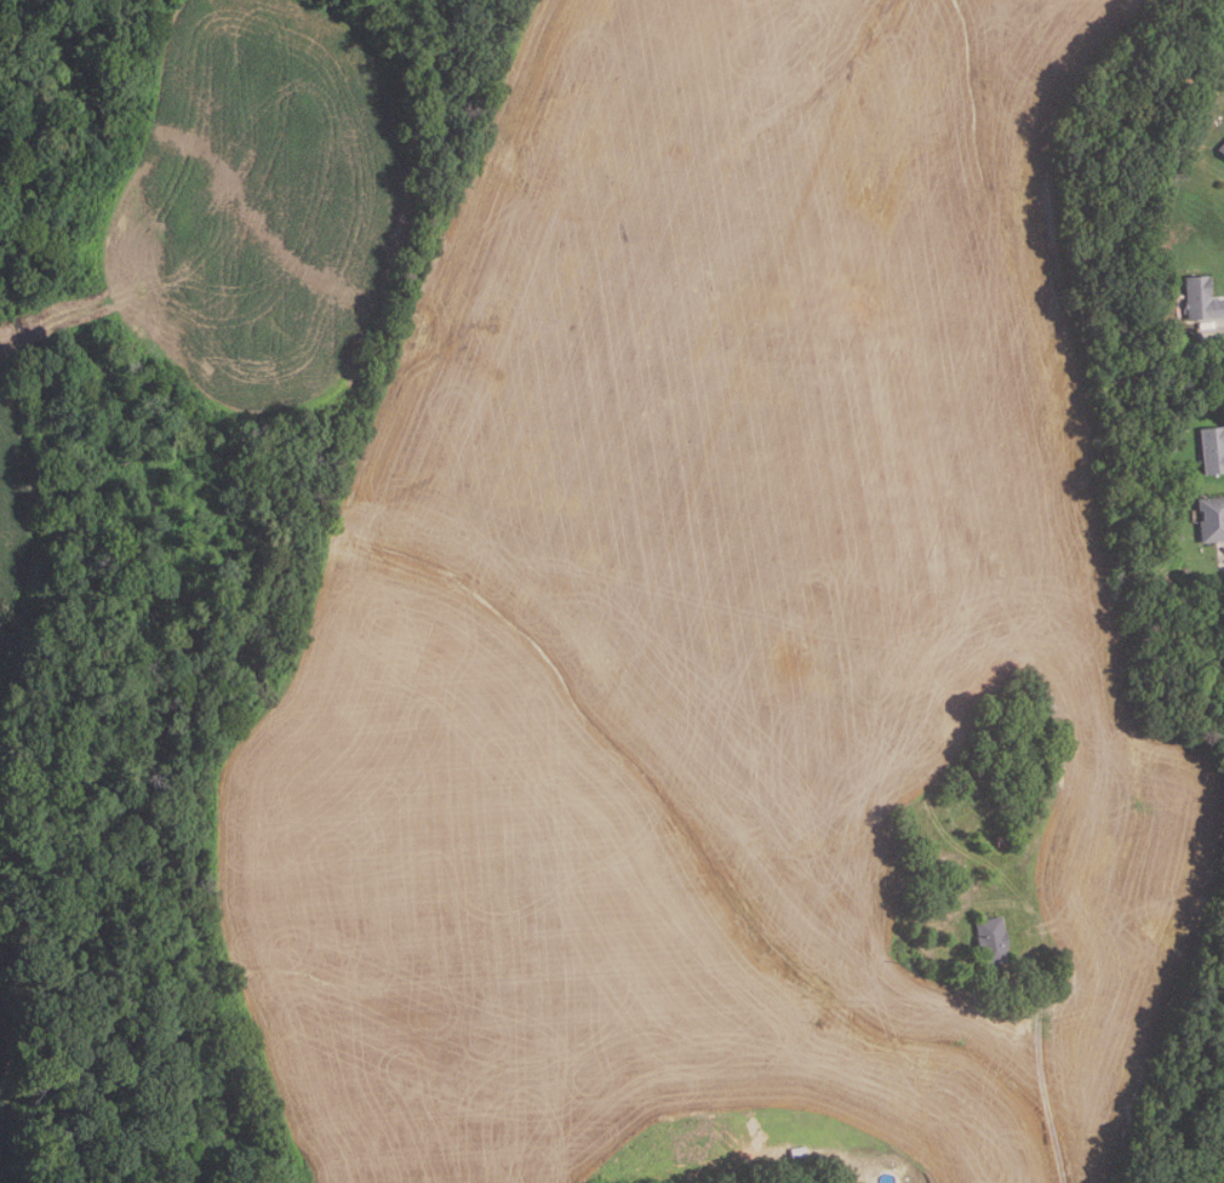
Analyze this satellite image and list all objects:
building: (1179, 143)
building: (1220, 149)
building: (1200, 298)
road: (1213, 327)
building: (1167, 446)
building: (1209, 448)
building: (1211, 519)
road: (1223, 559)
building: (851, 562)
building: (1002, 840)
building: (989, 939)
road: (1042, 1069)

